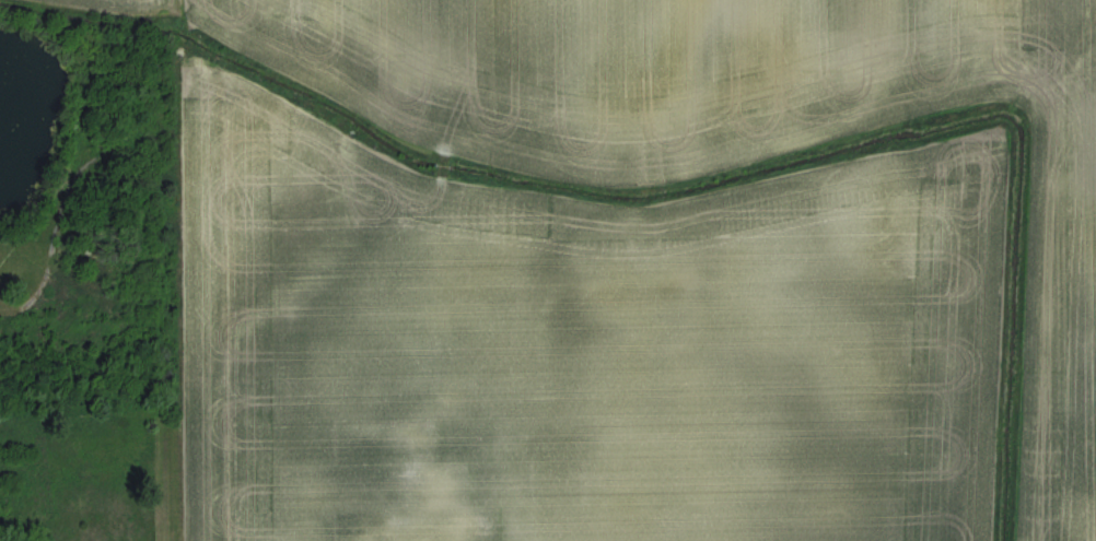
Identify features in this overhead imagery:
road: (71, 269)

